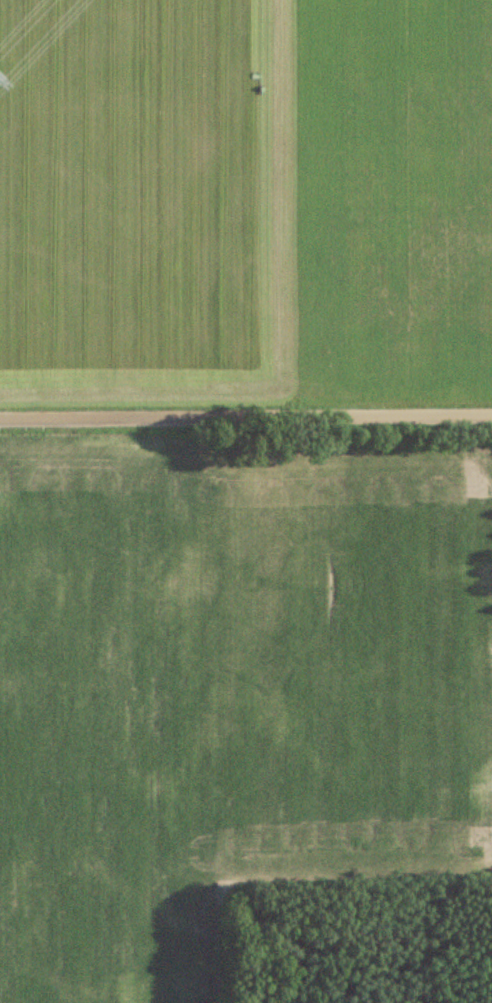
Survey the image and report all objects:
road: (246, 419)

